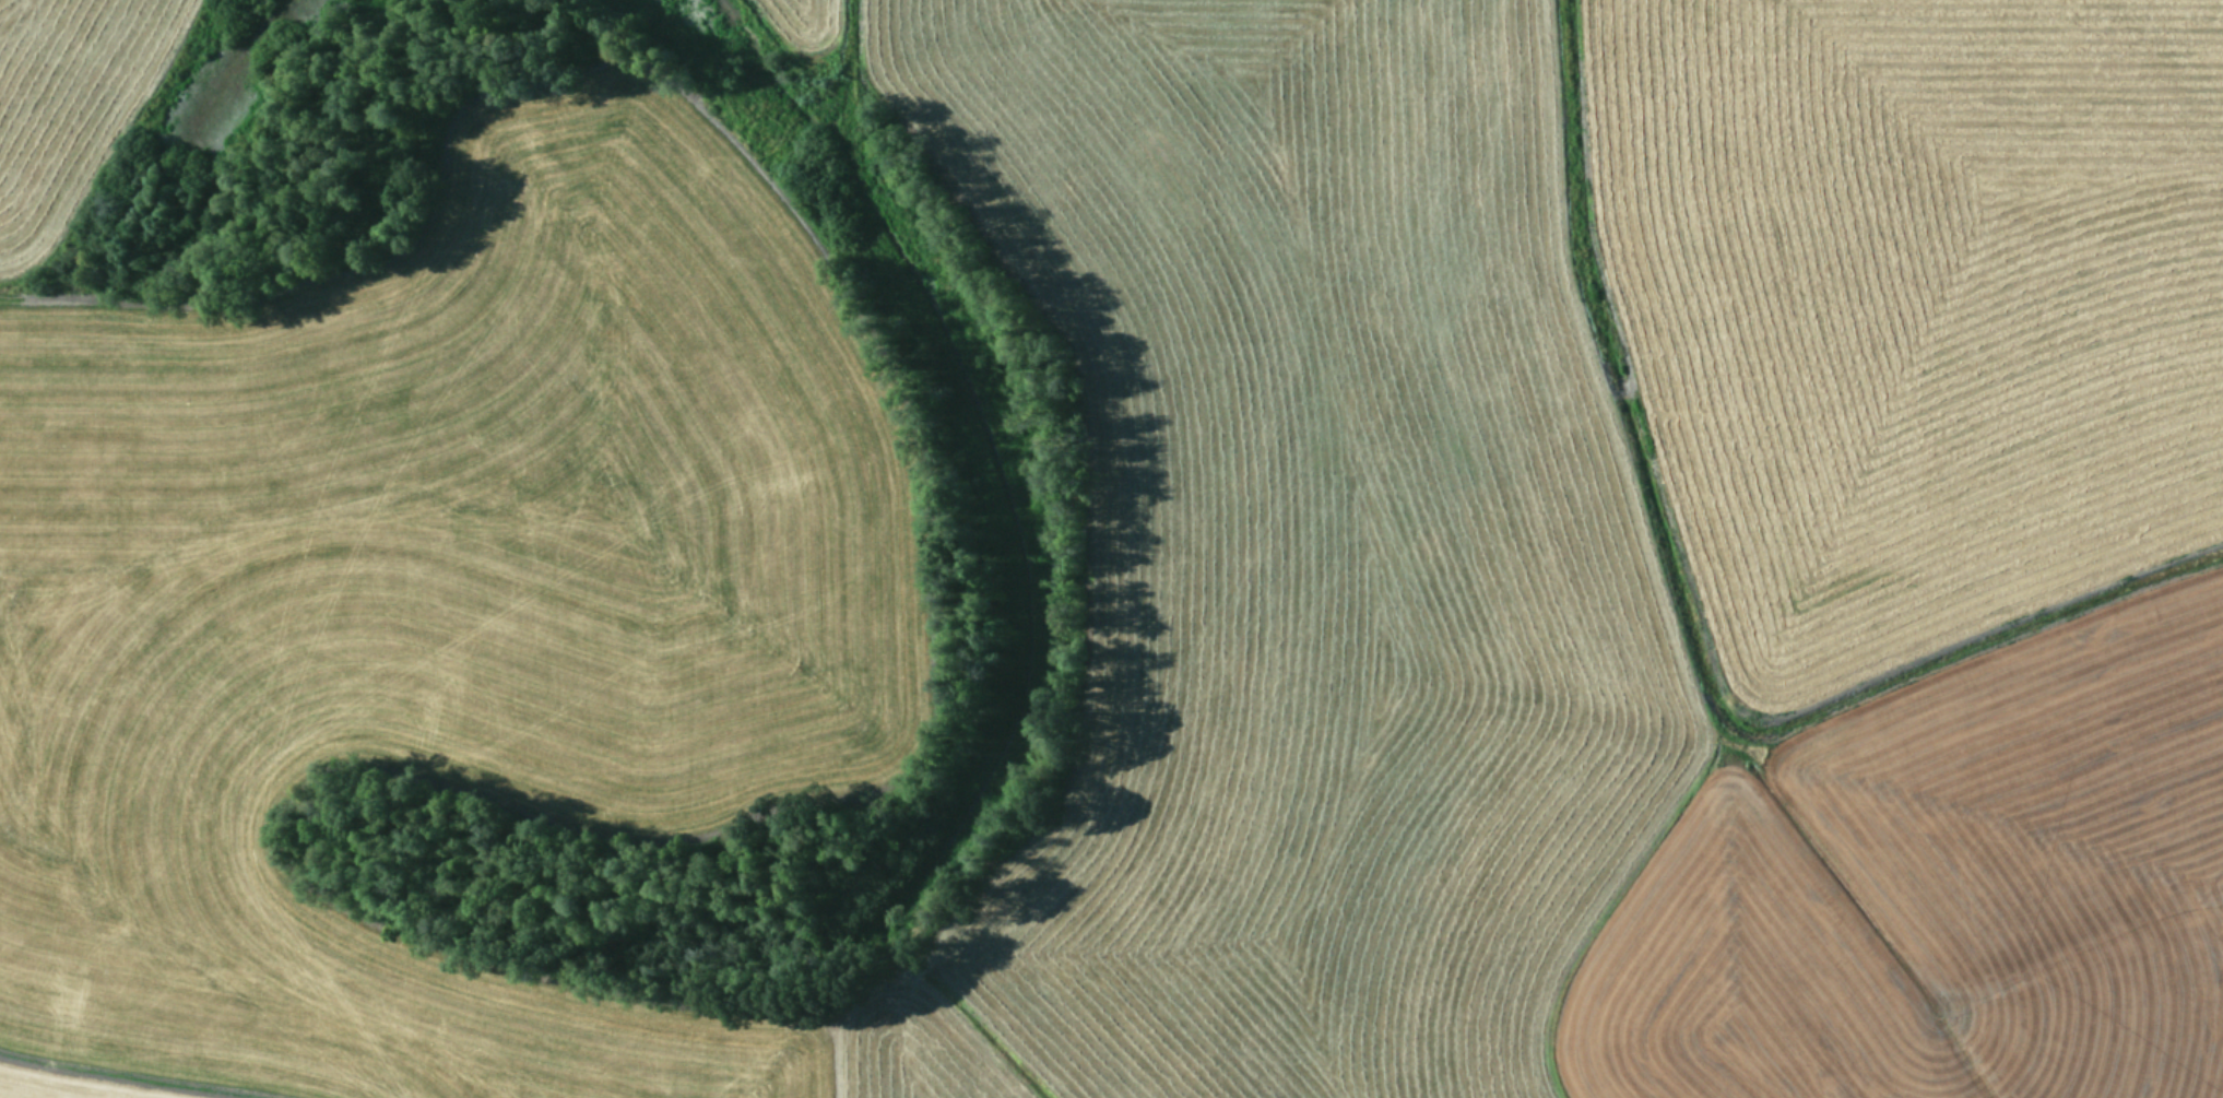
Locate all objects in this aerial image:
crop: (1111, 548)

